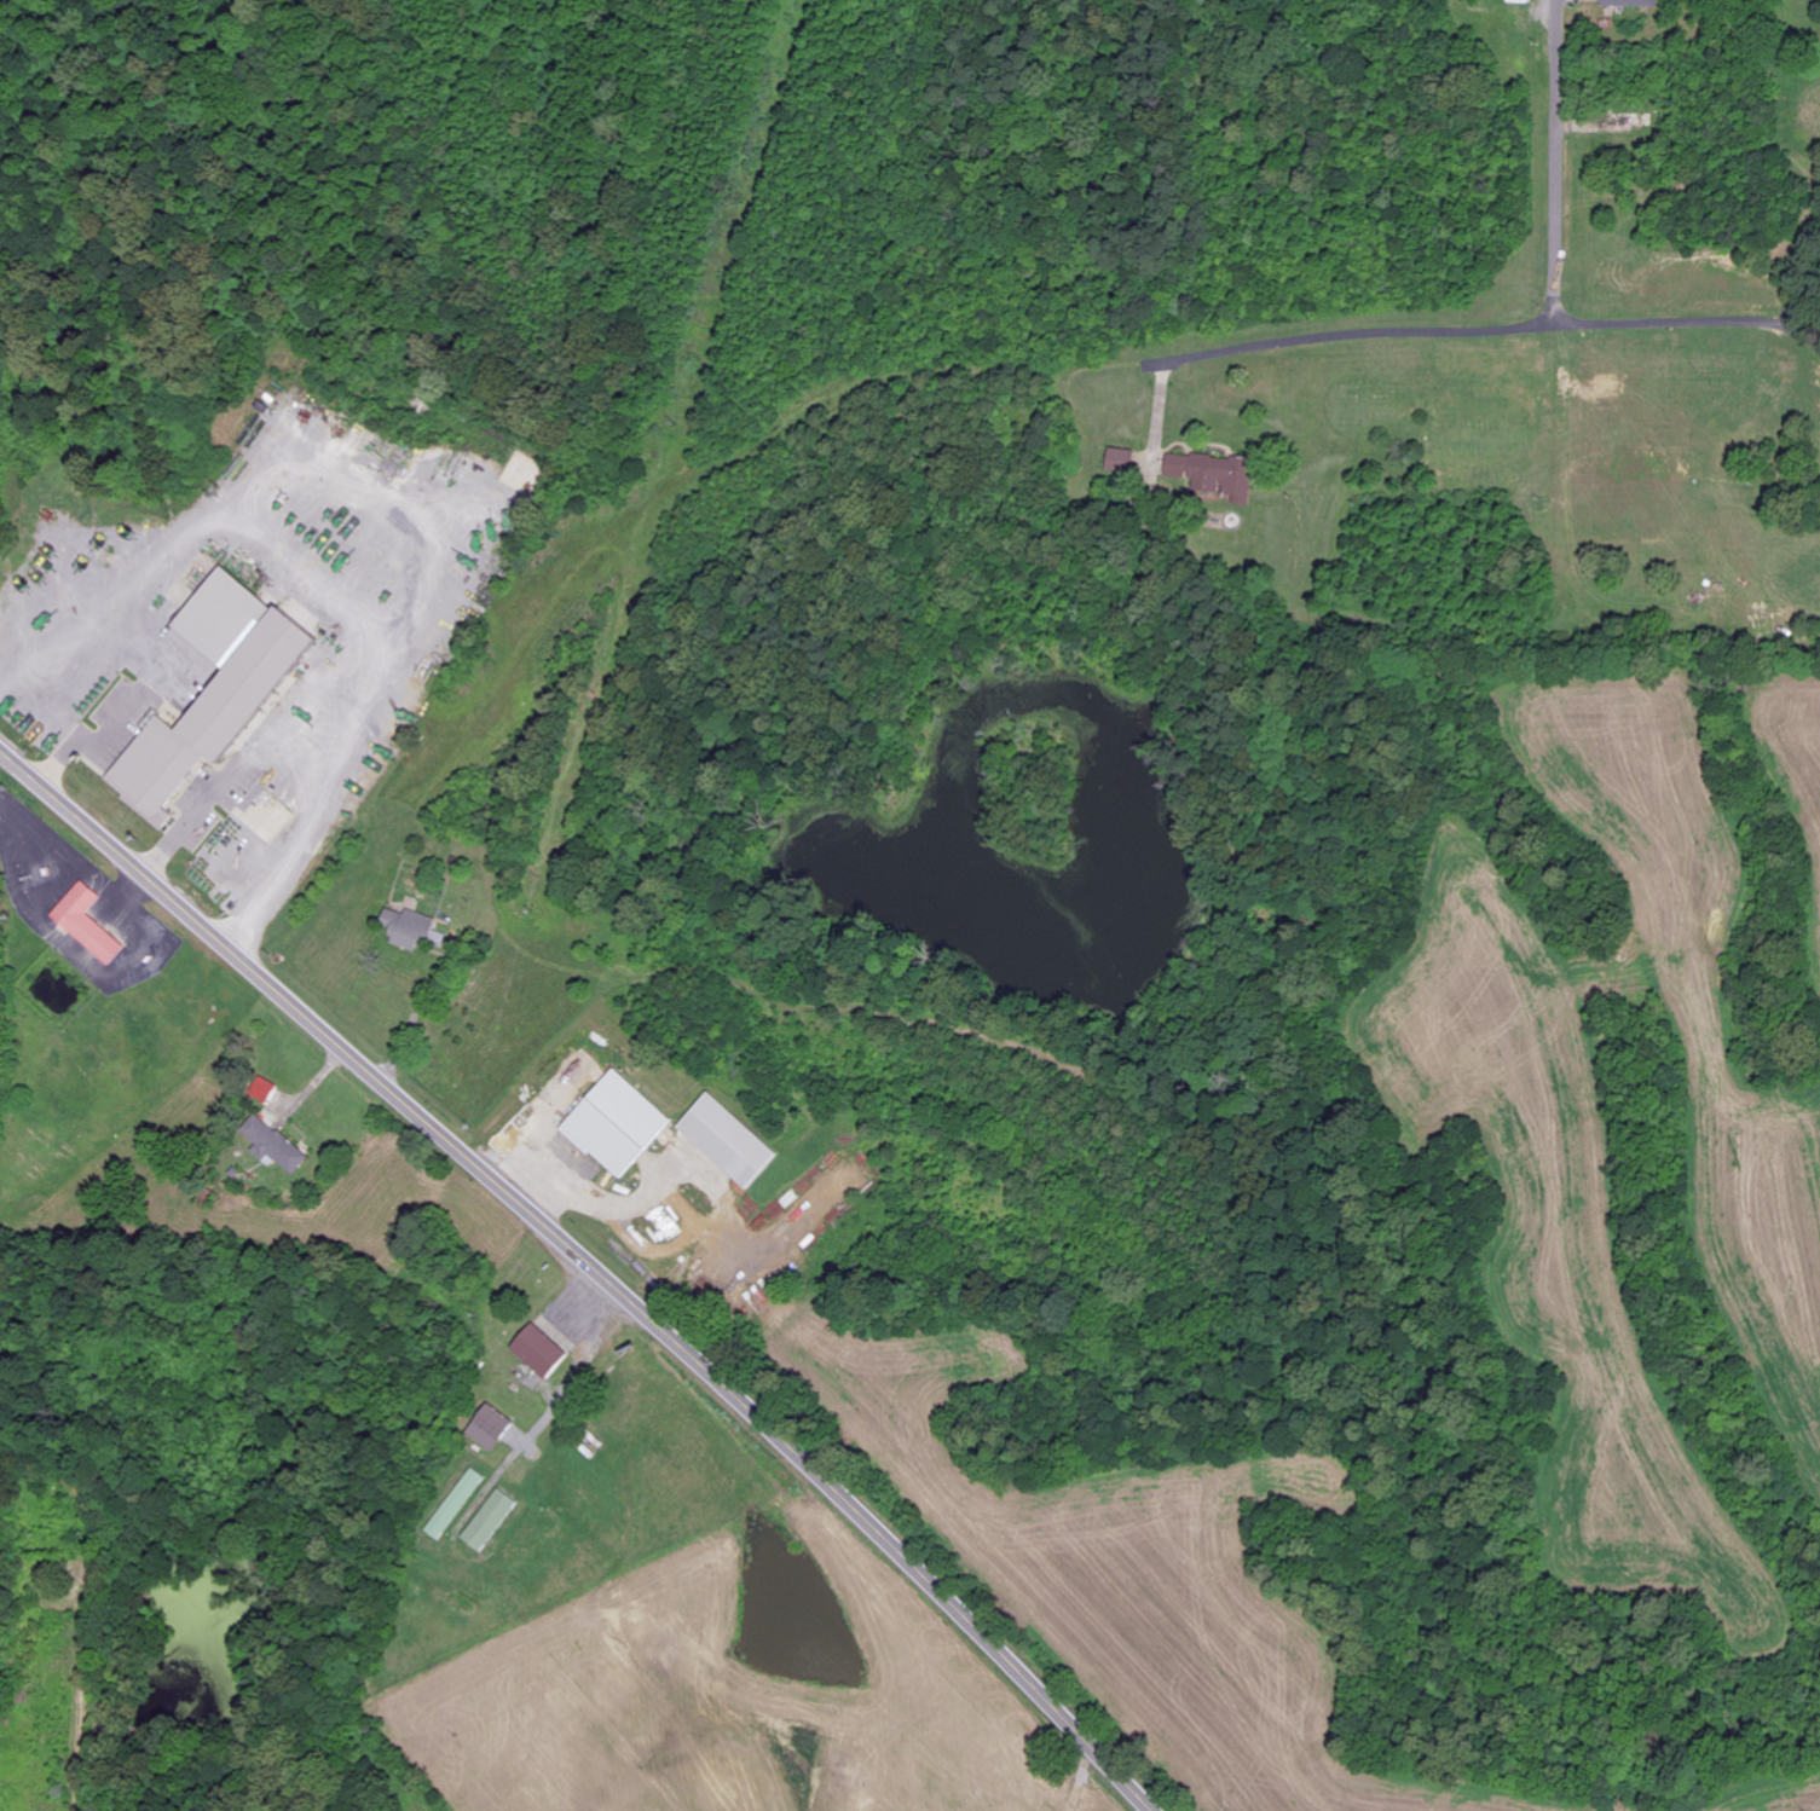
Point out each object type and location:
building: (1630, 2)
road: (1559, 155)
road: (1662, 274)
building: (1120, 459)
building: (1221, 478)
building: (87, 924)
building: (409, 928)
road: (497, 932)
building: (262, 1090)
building: (617, 1124)
building: (728, 1141)
building: (273, 1145)
road: (591, 1262)
building: (538, 1352)
building: (490, 1428)
building: (456, 1504)
building: (490, 1521)

